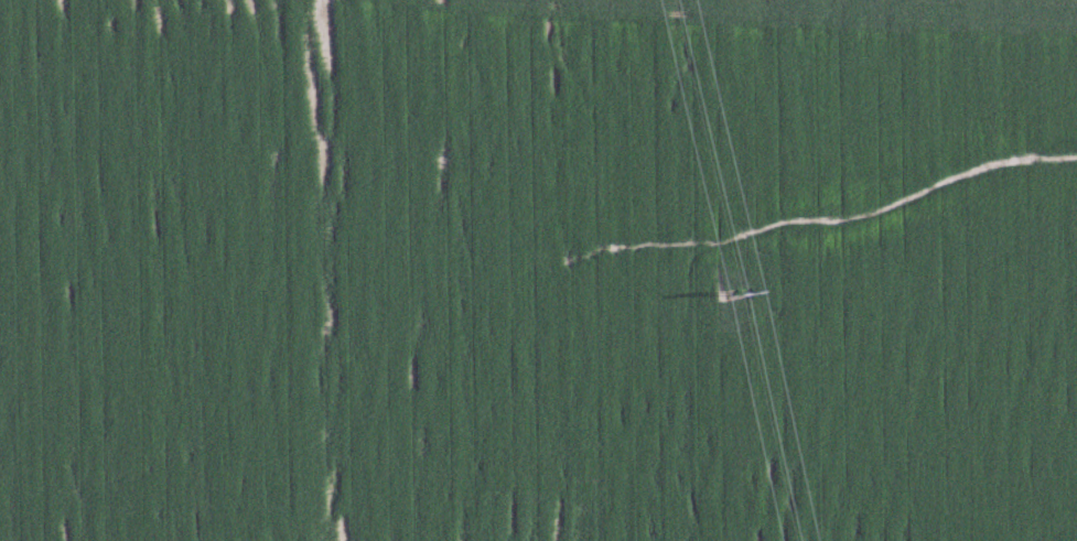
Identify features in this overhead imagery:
power tower: (739, 290)

